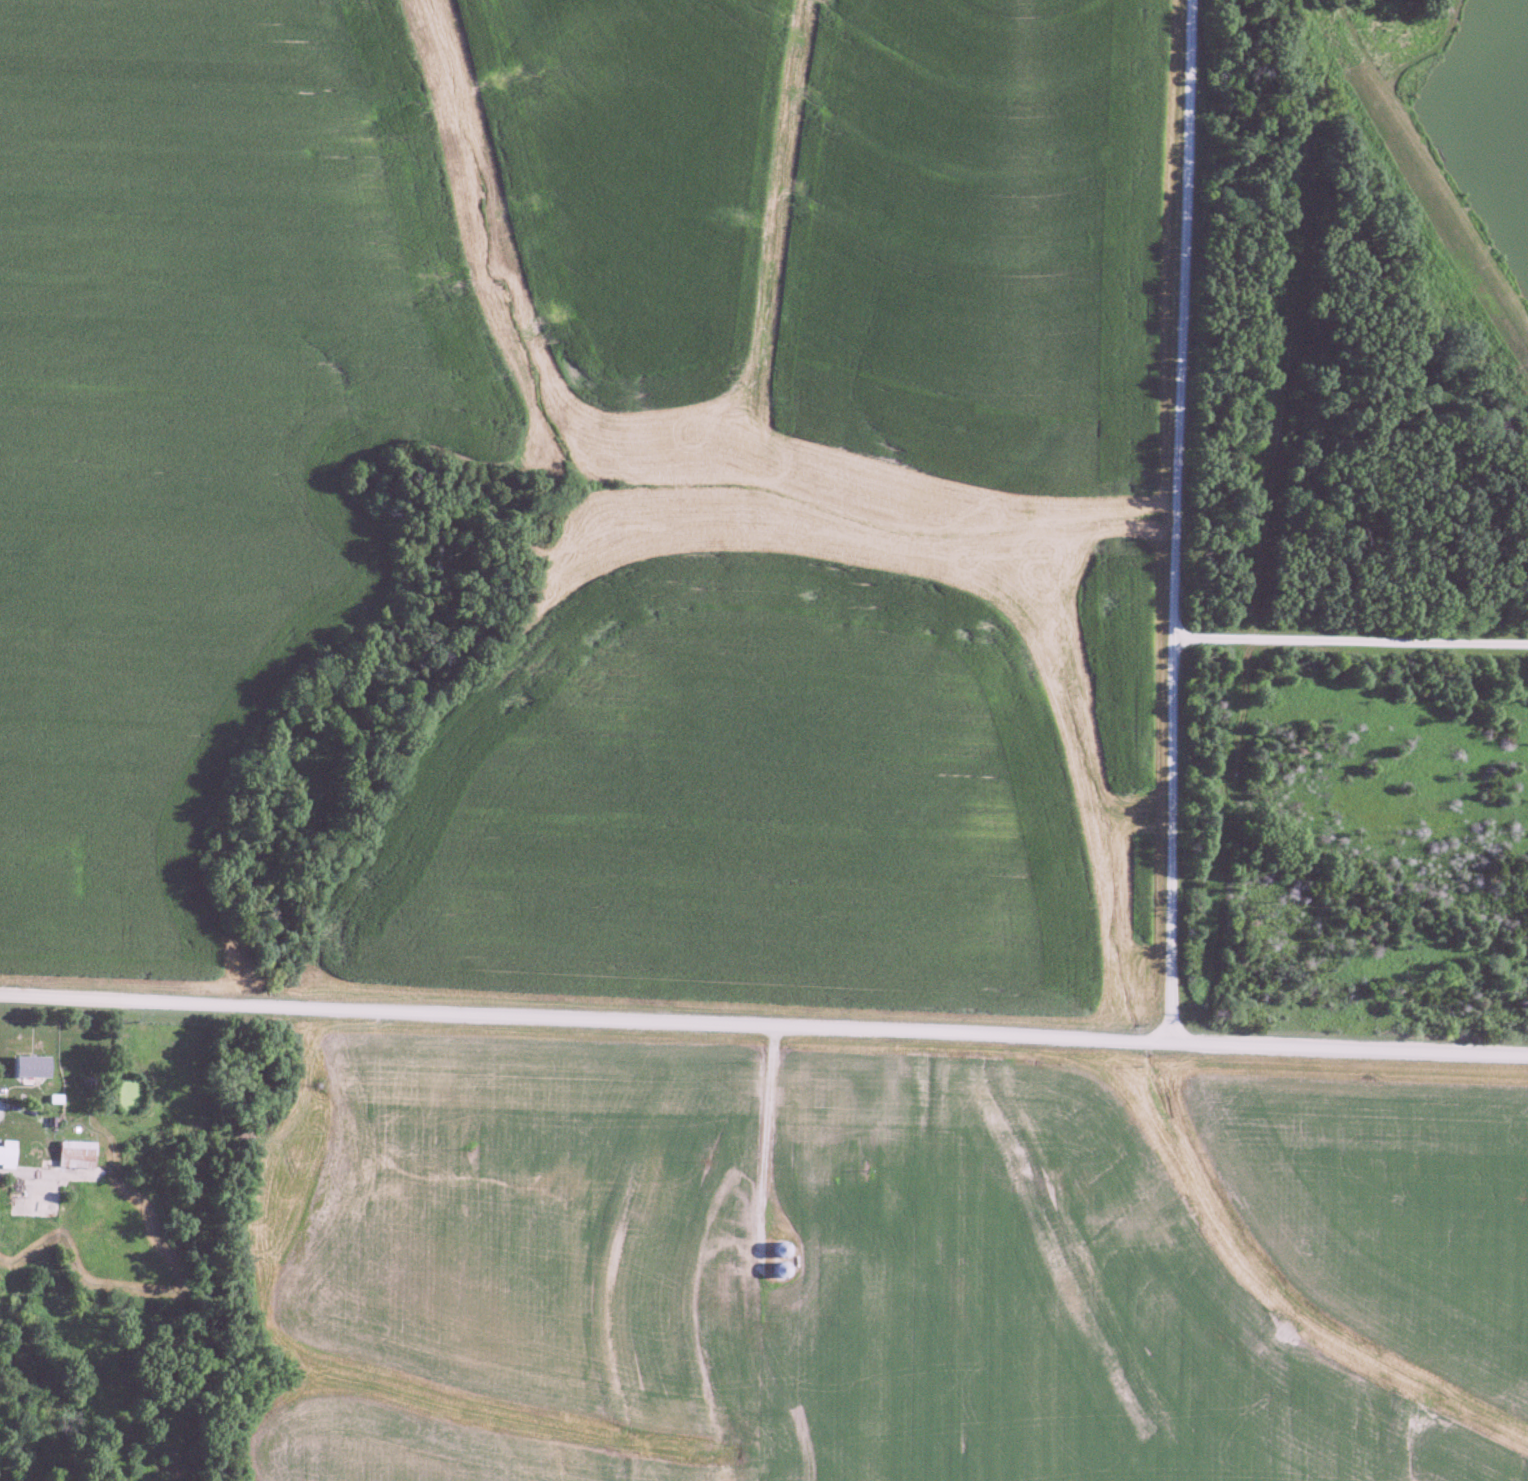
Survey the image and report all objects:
road: (1175, 521)
road: (1350, 641)
road: (764, 1023)
building: (30, 1066)
road: (0, 1106)
road: (765, 1132)
building: (7, 1154)
building: (76, 1154)

